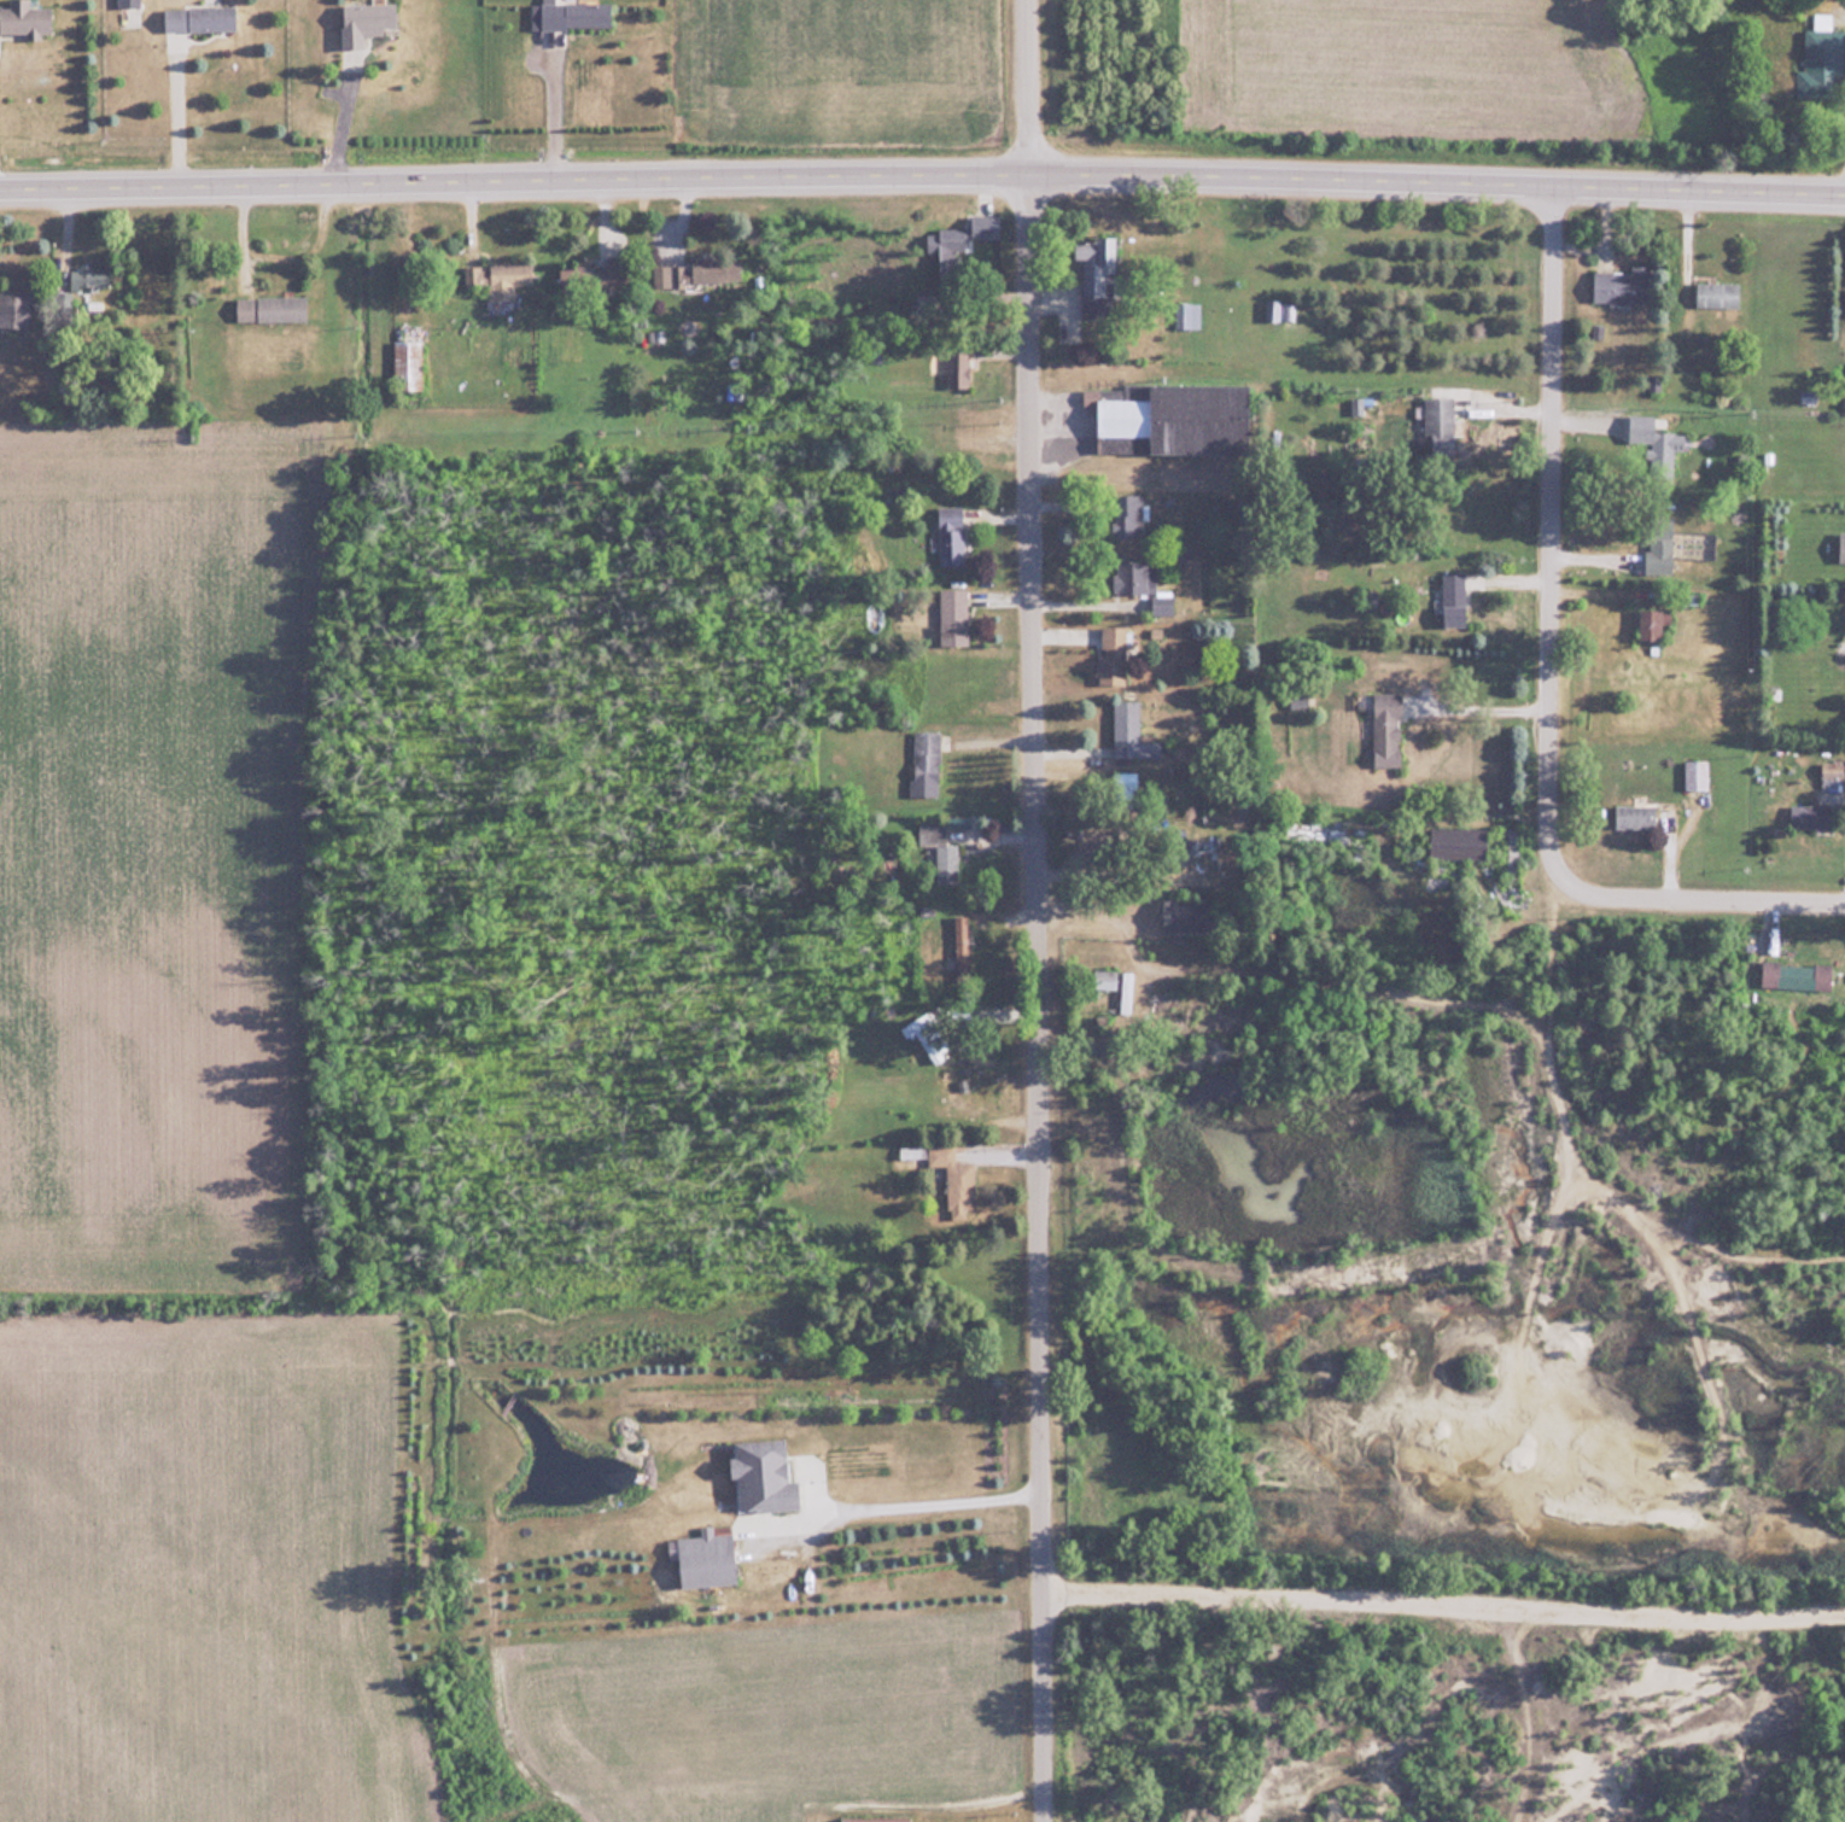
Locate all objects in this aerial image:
building: (128, 2)
building: (576, 14)
building: (25, 17)
building: (200, 18)
building: (367, 22)
building: (1822, 63)
road: (175, 103)
road: (556, 109)
road: (922, 179)
building: (971, 230)
building: (697, 271)
building: (607, 274)
building: (1096, 275)
building: (498, 278)
building: (91, 279)
building: (1622, 285)
building: (1717, 294)
building: (13, 308)
building: (272, 309)
building: (1273, 310)
building: (408, 364)
building: (958, 366)
building: (1175, 417)
building: (1441, 421)
building: (1640, 430)
building: (1128, 514)
building: (951, 533)
building: (1662, 543)
building: (1841, 545)
building: (1143, 584)
building: (1454, 596)
building: (954, 614)
building: (1653, 621)
building: (1113, 653)
road: (1551, 679)
road: (1482, 701)
building: (1388, 728)
building: (1131, 731)
building: (926, 761)
building: (1831, 766)
building: (1697, 773)
building: (1811, 813)
building: (1635, 816)
building: (1460, 841)
road: (1035, 911)
building: (1189, 915)
building: (1797, 974)
building: (926, 1034)
building: (764, 1474)
road: (888, 1491)
building: (707, 1558)
road: (1462, 1579)
building: (876, 1820)

